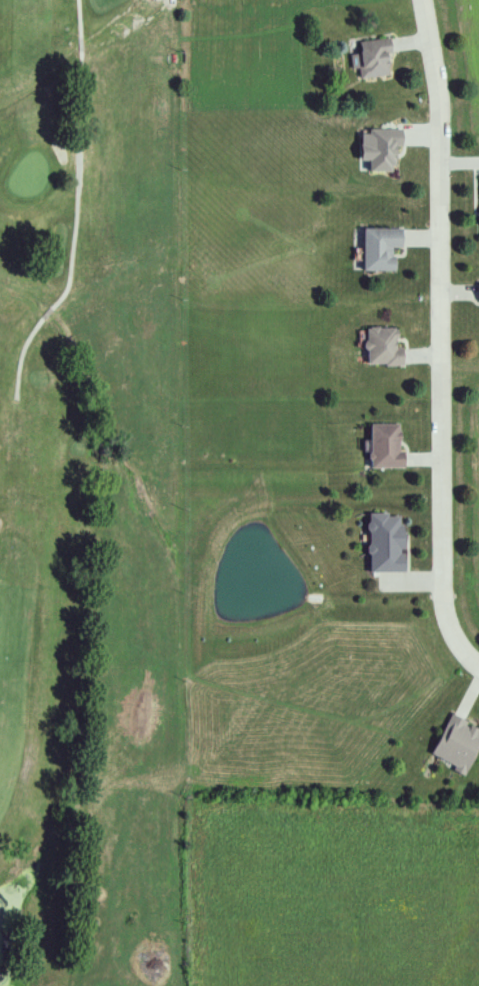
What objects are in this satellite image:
building: (375, 58)
building: (385, 248)
road: (440, 339)
building: (388, 346)
building: (390, 446)
park: (93, 497)
building: (391, 543)
building: (460, 744)

